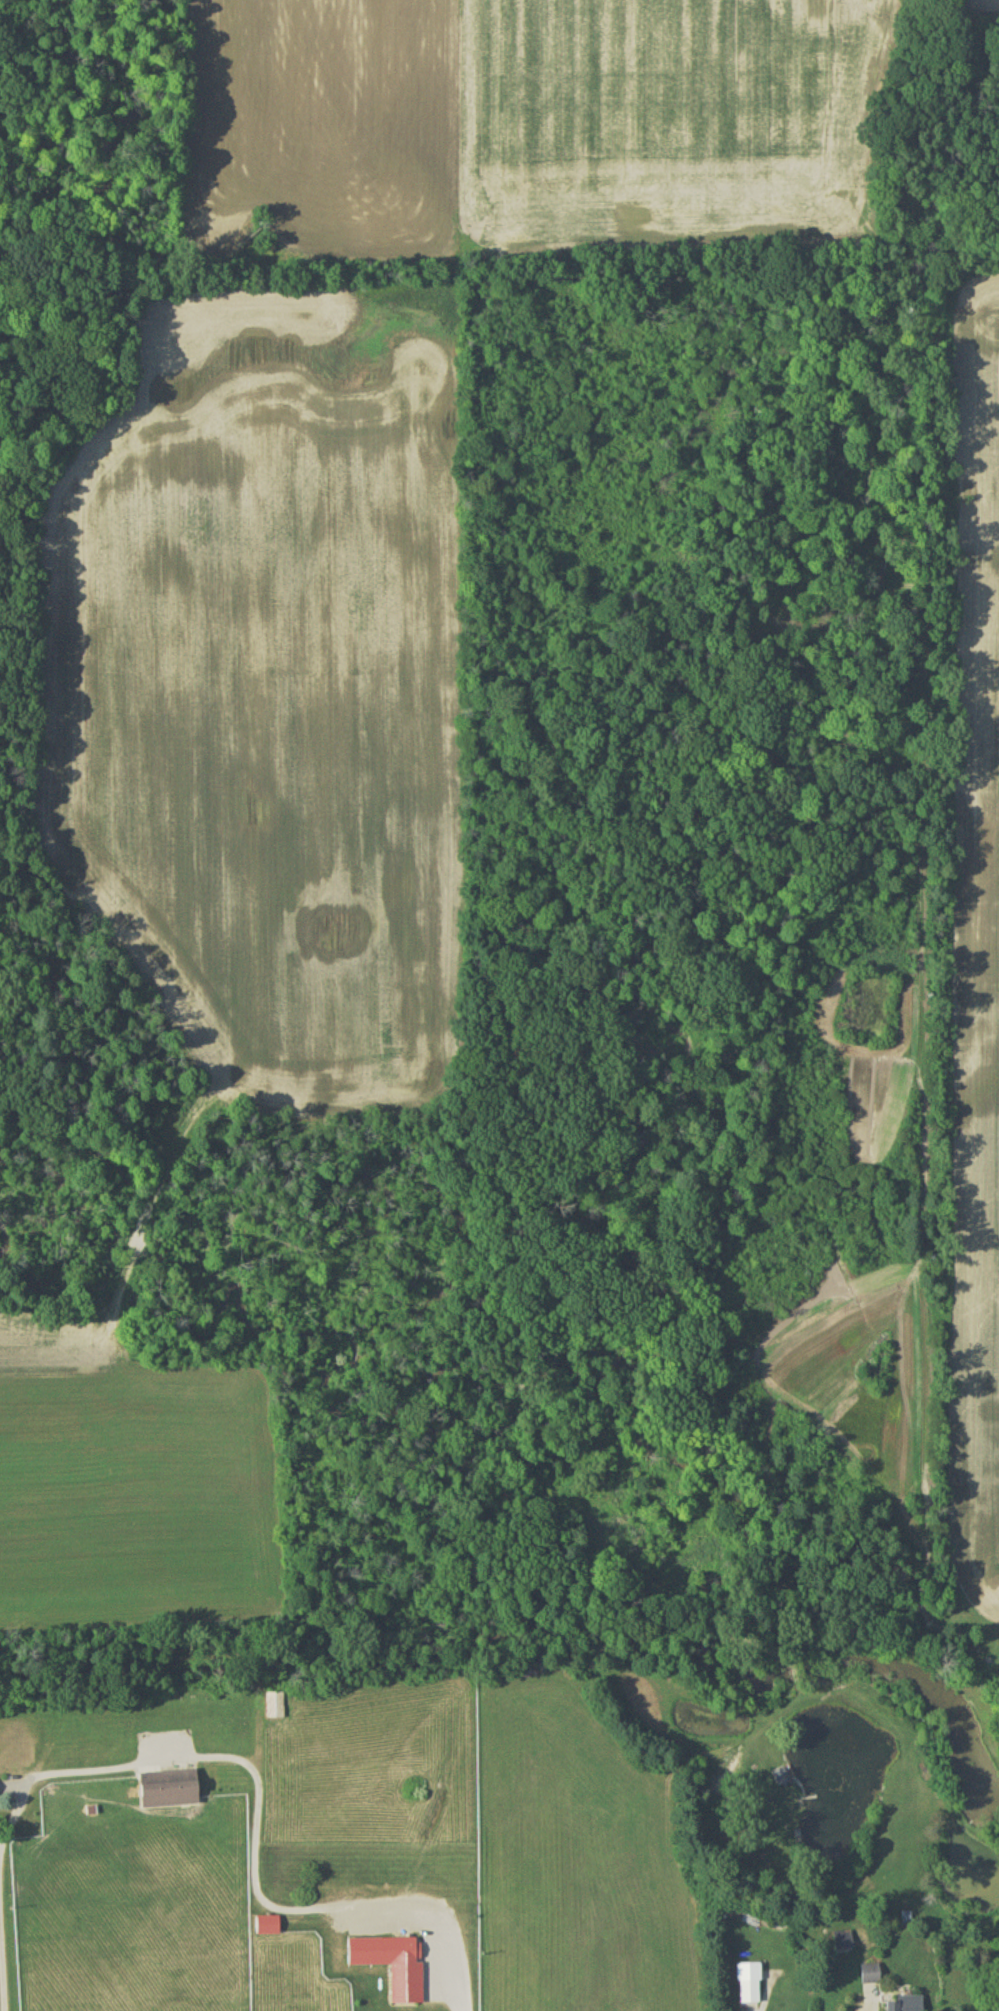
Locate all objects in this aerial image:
building: (275, 1708)
road: (233, 1754)
building: (783, 1779)
building: (173, 1792)
building: (905, 1921)
building: (270, 1929)
building: (843, 1944)
building: (394, 1968)
building: (871, 1978)
building: (750, 1987)
road: (990, 1999)
building: (908, 2006)

